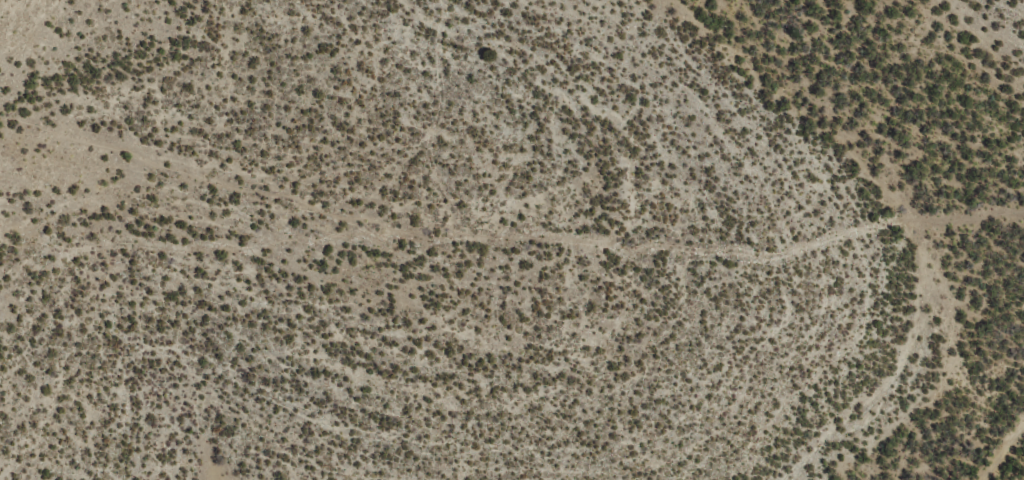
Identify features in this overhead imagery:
road: (1005, 460)

